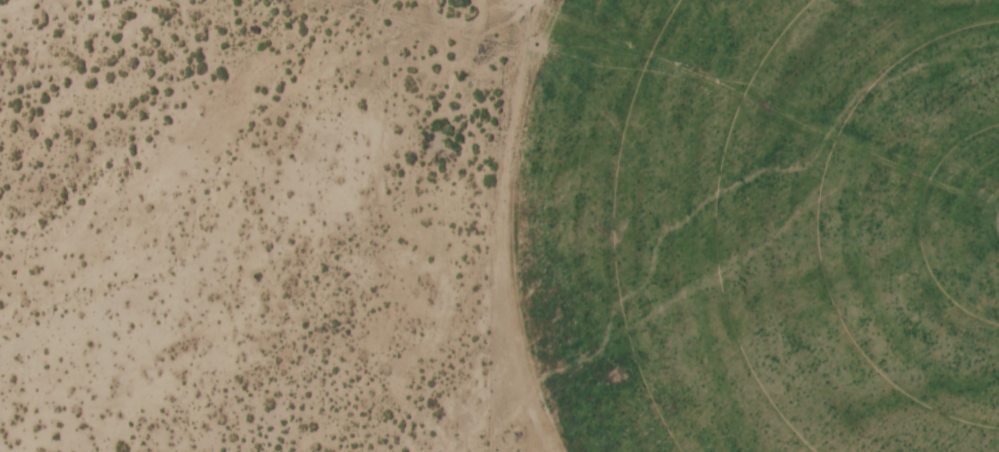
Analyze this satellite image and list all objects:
crop: (768, 225)

